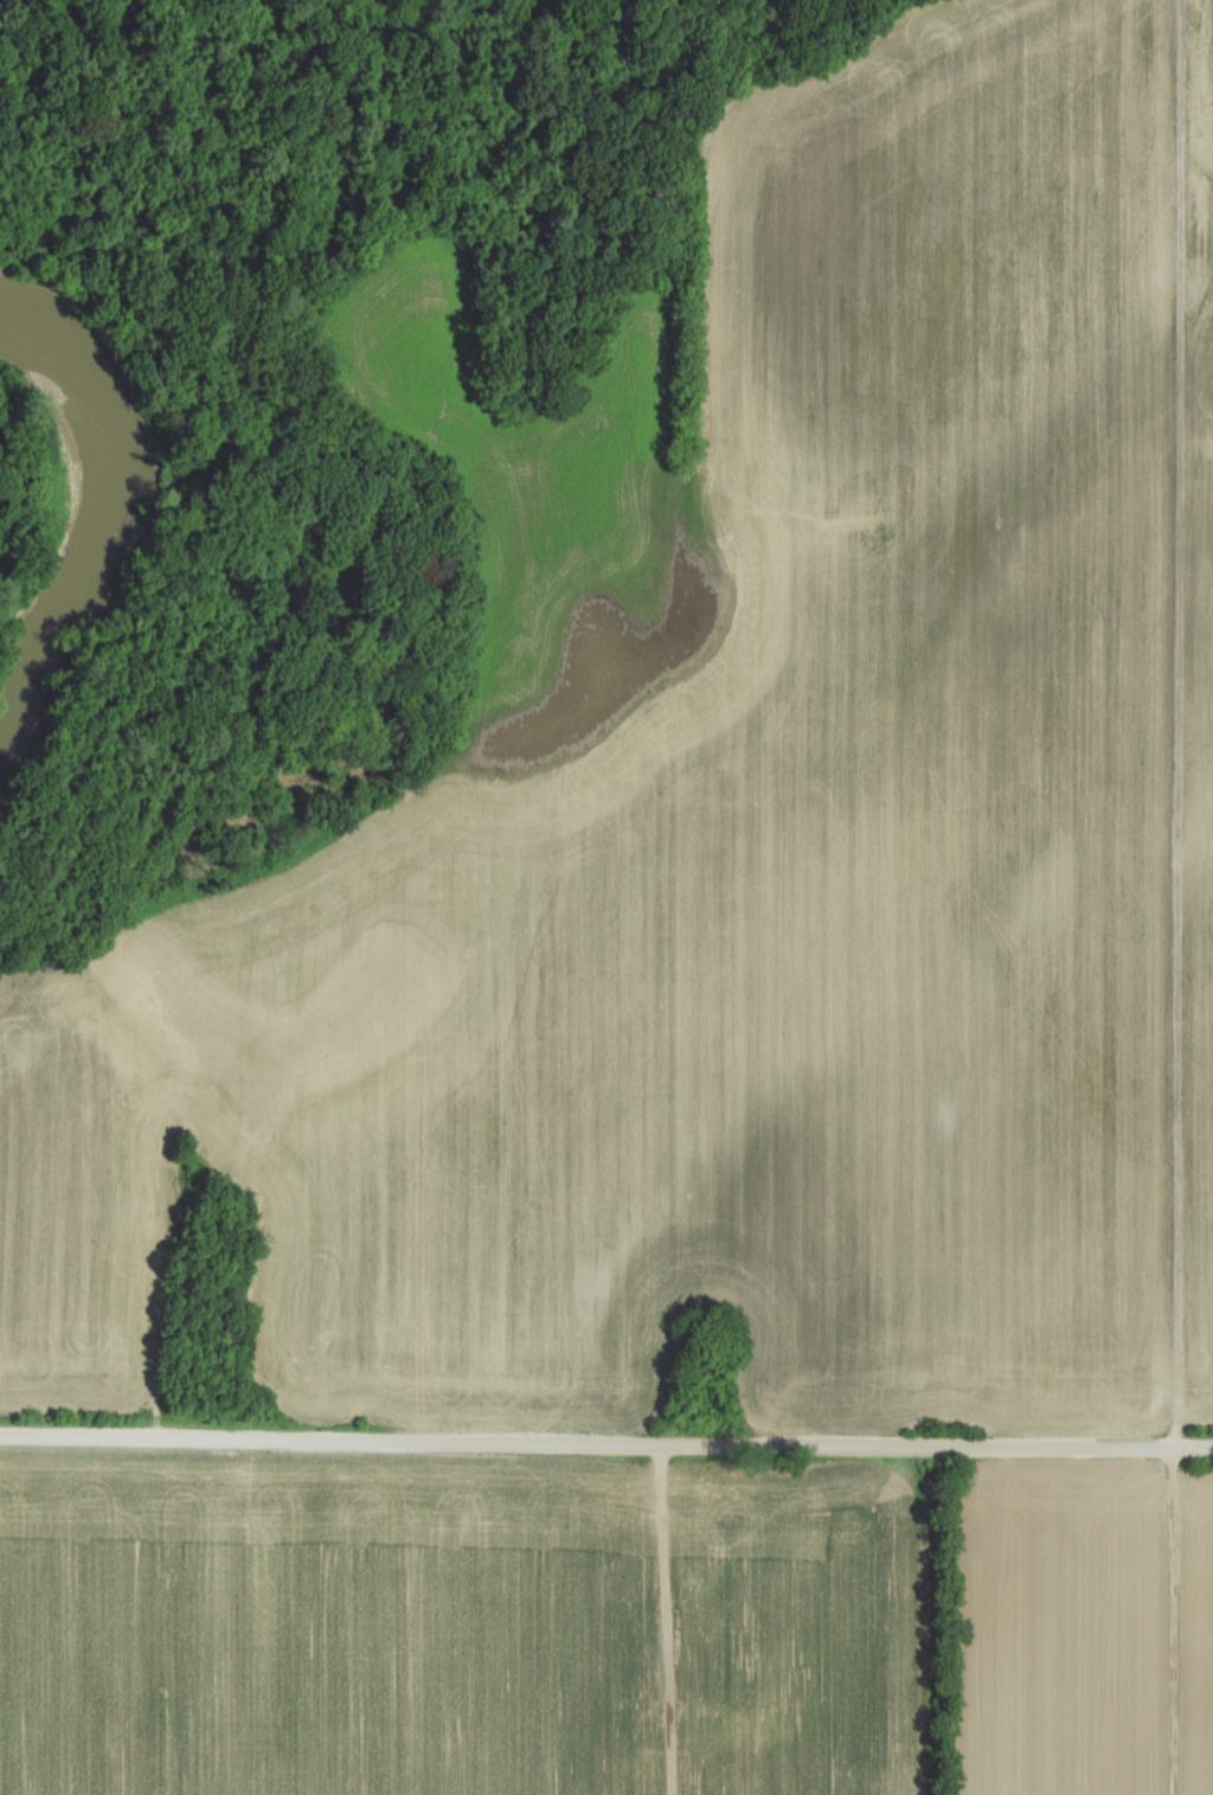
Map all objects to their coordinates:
river: (101, 521)
road: (1181, 724)
road: (159, 1418)
road: (605, 1444)
road: (667, 1620)
road: (1175, 1622)

